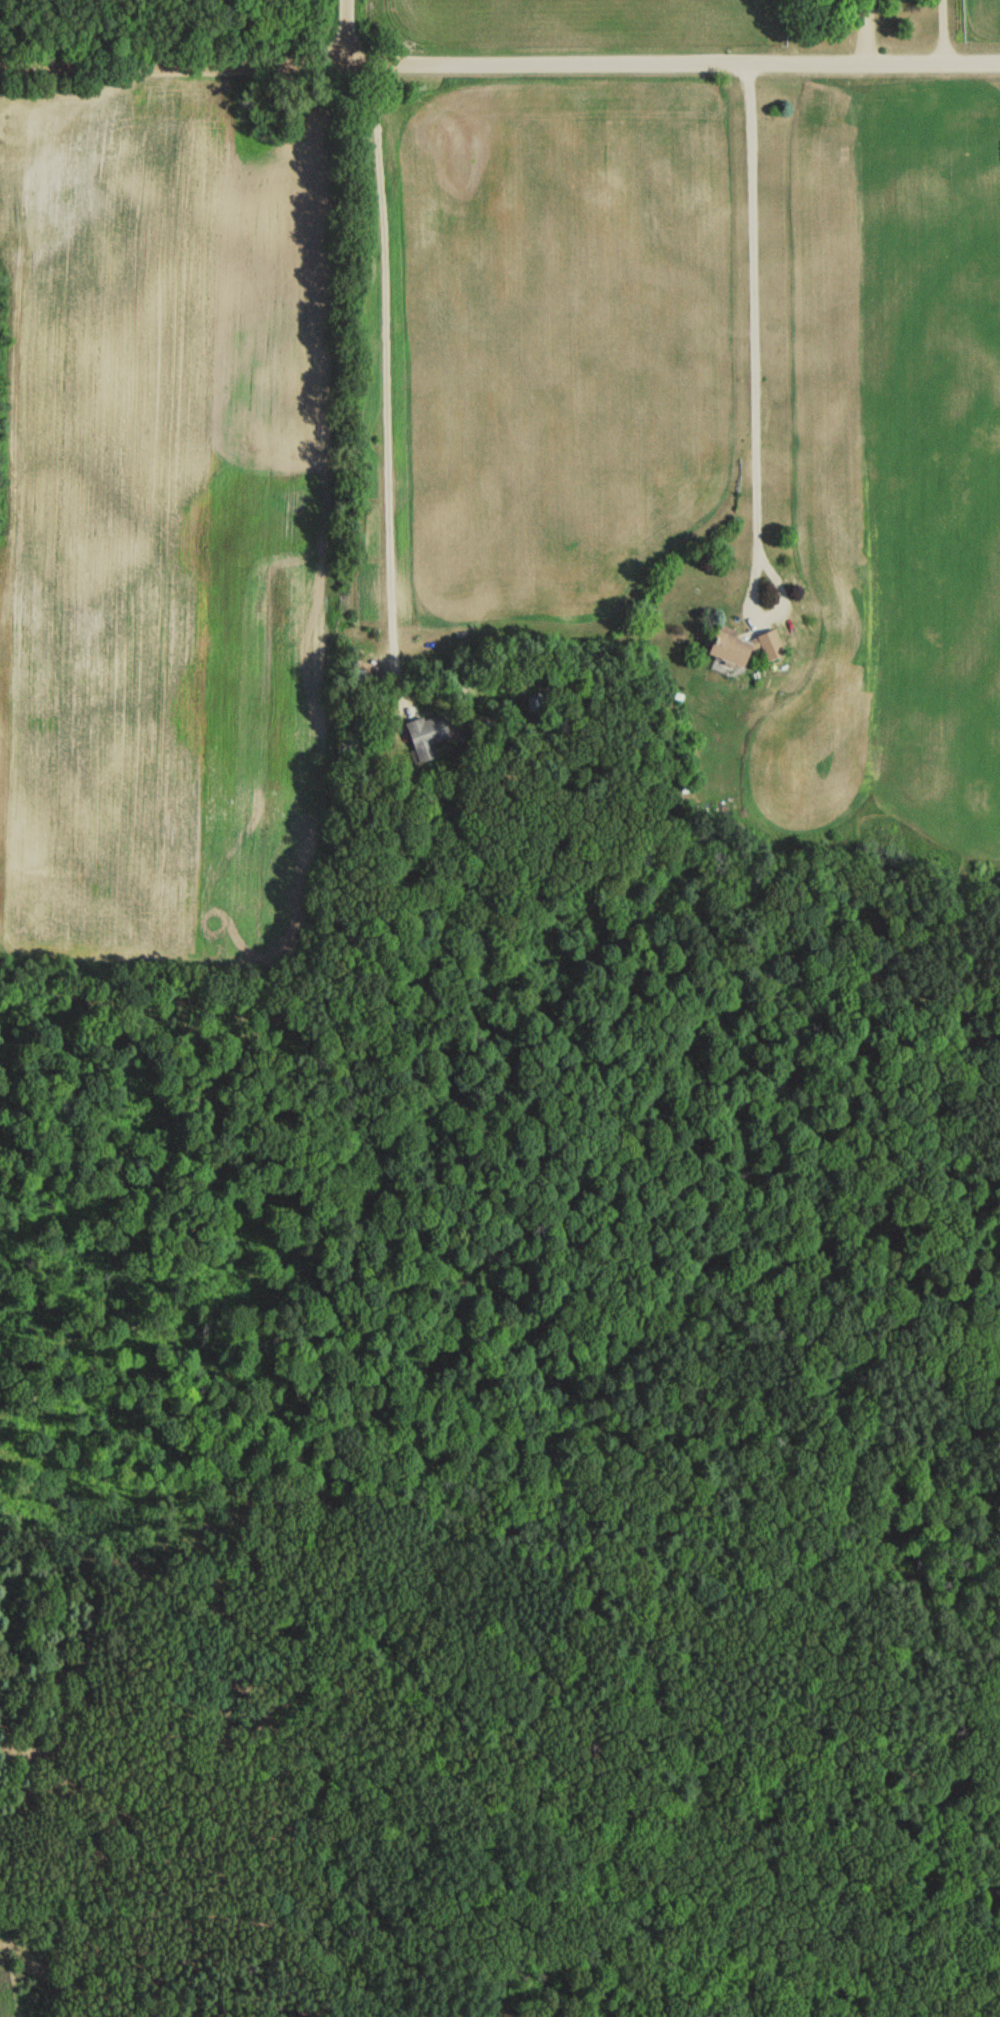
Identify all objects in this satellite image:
road: (933, 32)
road: (345, 33)
road: (500, 65)
road: (743, 336)
road: (373, 363)
building: (770, 644)
building: (731, 648)
building: (535, 704)
building: (427, 734)

